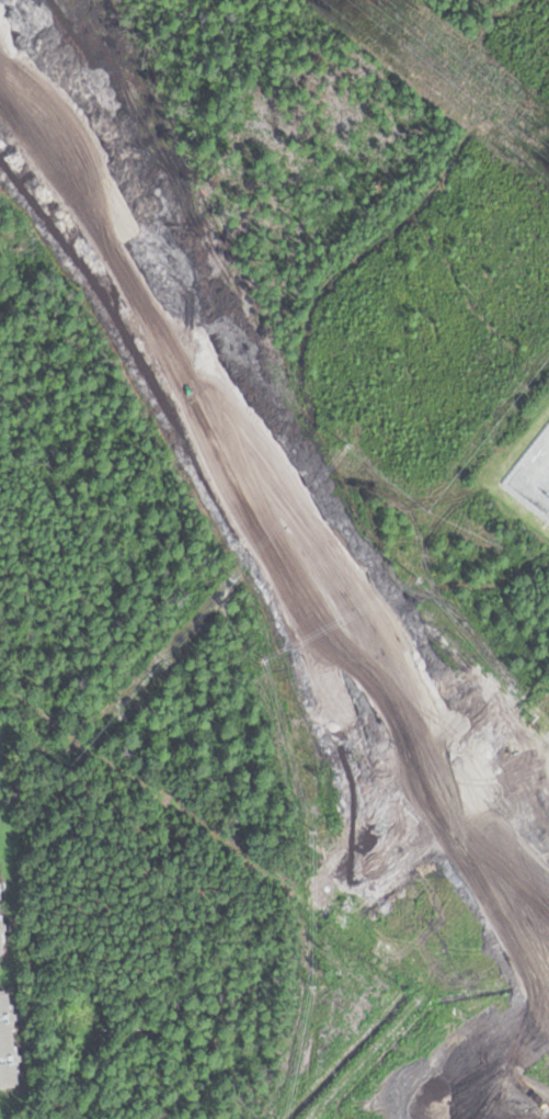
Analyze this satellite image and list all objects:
power tower: (541, 135)
park: (239, 290)
power substation: (534, 475)
building: (1, 941)
building: (7, 1044)
building: (495, 1069)
building: (472, 1093)

